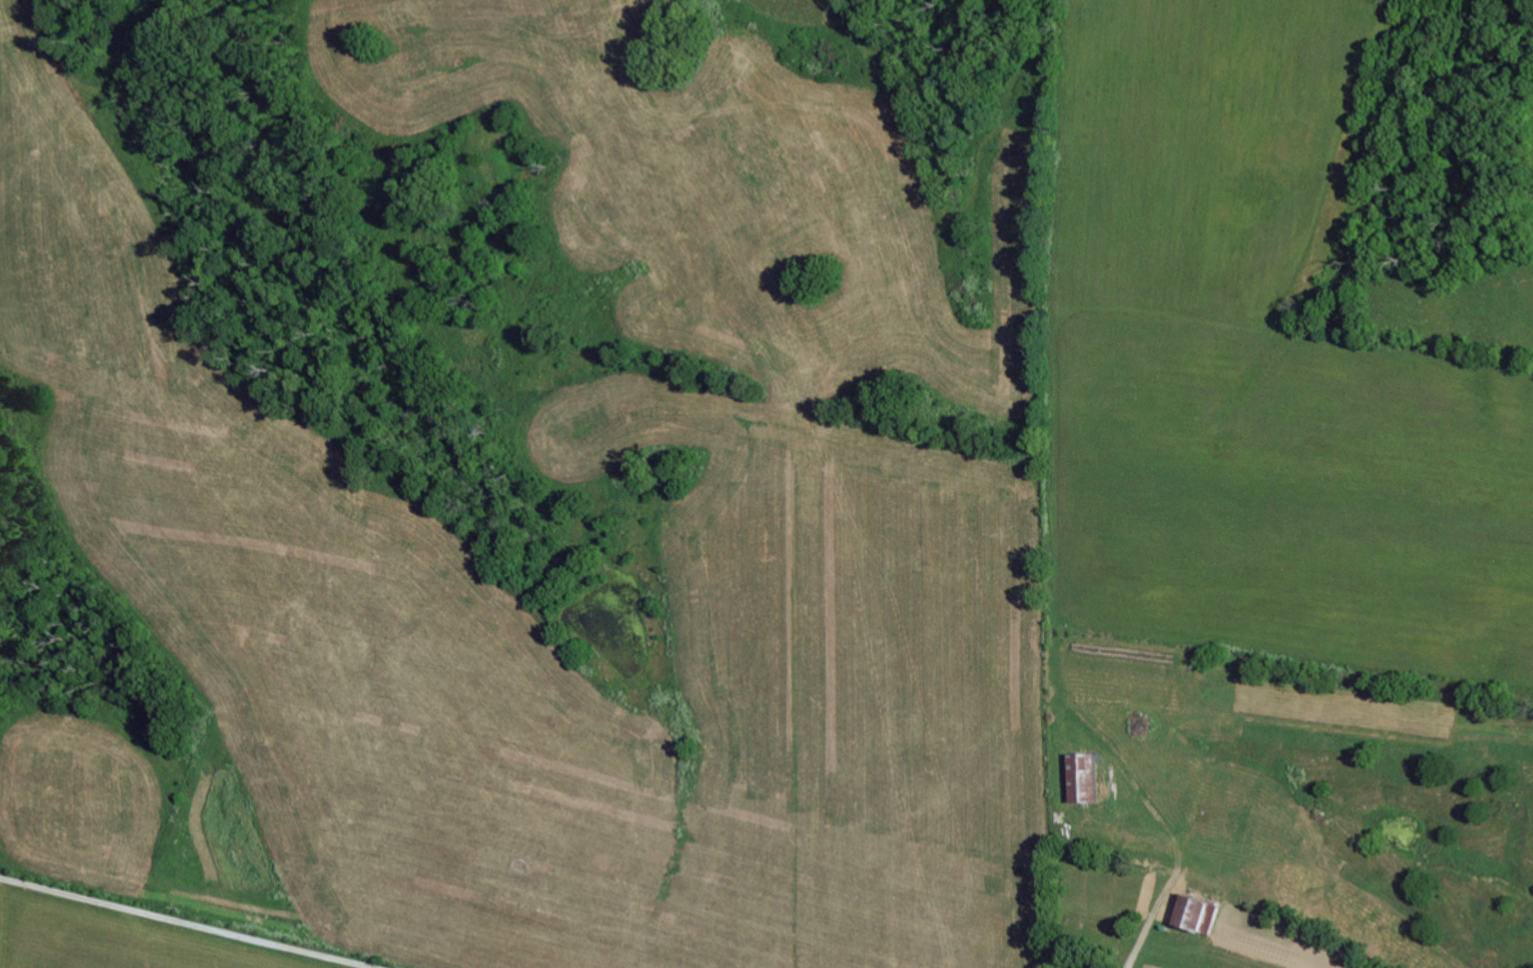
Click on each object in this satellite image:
building: (1079, 775)
building: (1193, 911)
road: (178, 925)

